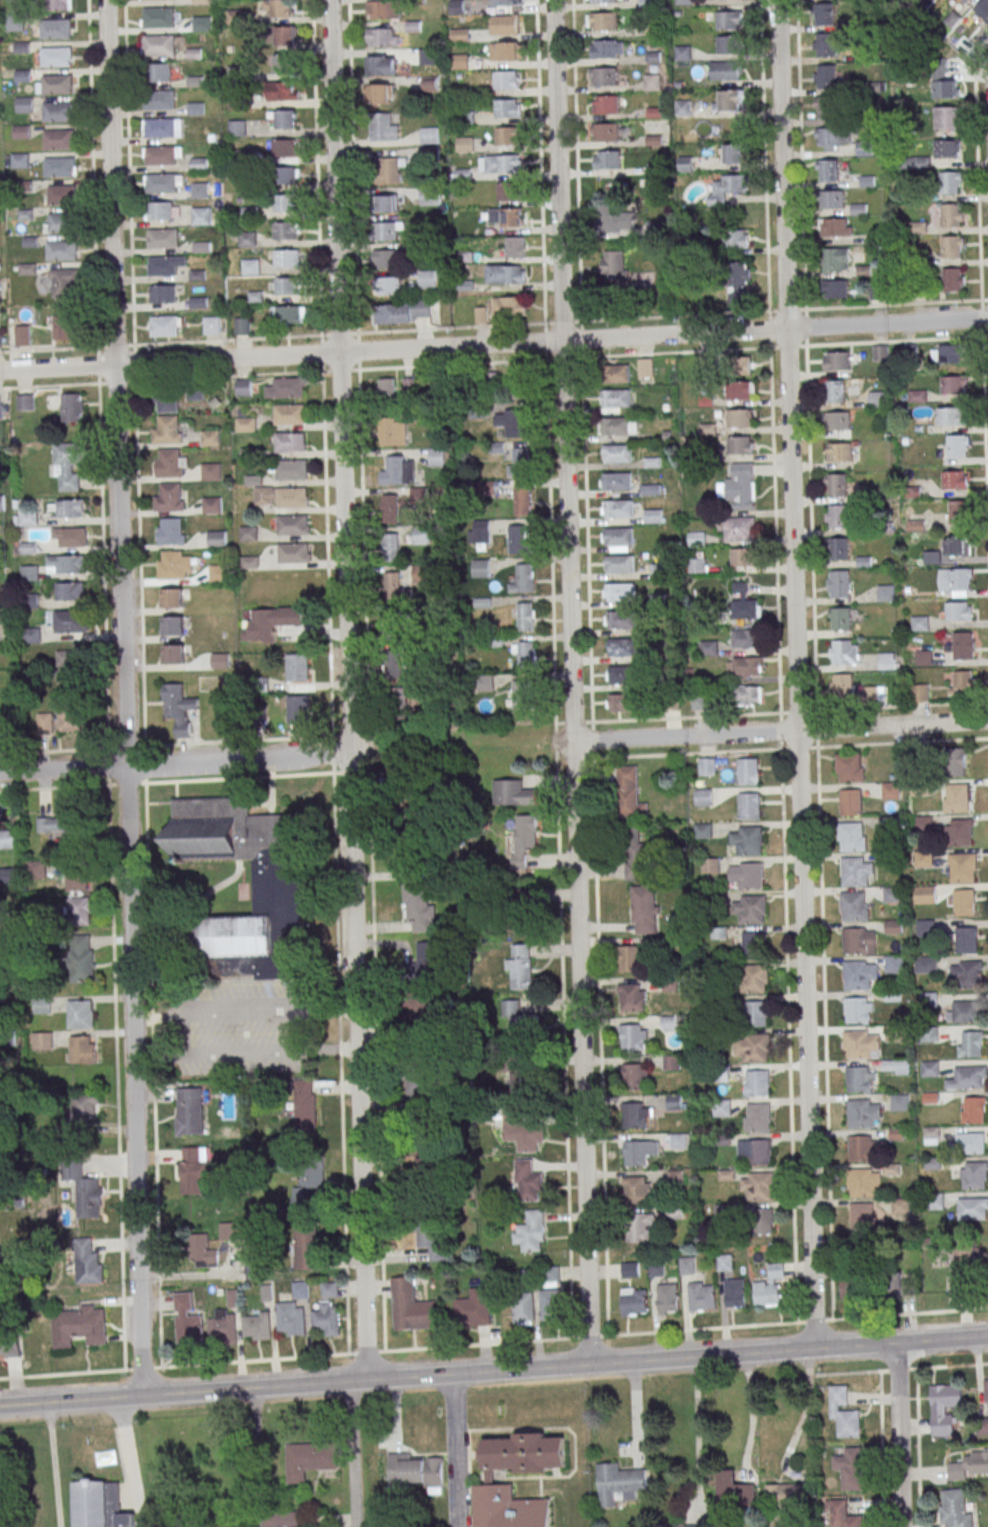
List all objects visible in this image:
building: (157, 0)
building: (606, 1)
building: (966, 1)
building: (505, 3)
building: (60, 5)
building: (283, 8)
building: (384, 9)
building: (986, 9)
building: (823, 14)
building: (159, 17)
building: (729, 20)
building: (602, 21)
building: (15, 22)
building: (201, 23)
building: (505, 25)
building: (56, 28)
building: (286, 33)
building: (459, 35)
building: (381, 36)
building: (729, 44)
building: (827, 44)
building: (160, 45)
building: (607, 49)
building: (507, 51)
building: (682, 53)
building: (428, 56)
building: (57, 57)
building: (459, 61)
building: (283, 65)
building: (381, 65)
building: (726, 71)
building: (159, 72)
building: (603, 76)
building: (827, 76)
building: (507, 80)
building: (58, 84)
building: (430, 86)
building: (945, 89)
building: (284, 91)
building: (382, 93)
building: (160, 100)
building: (729, 101)
building: (24, 104)
building: (606, 104)
building: (508, 108)
building: (824, 108)
building: (58, 111)
building: (465, 117)
building: (948, 117)
building: (286, 119)
building: (160, 127)
building: (383, 127)
building: (237, 128)
building: (608, 132)
building: (429, 135)
building: (509, 135)
building: (59, 139)
building: (832, 139)
building: (465, 144)
building: (284, 147)
building: (947, 148)
building: (736, 153)
building: (160, 155)
building: (608, 159)
building: (20, 160)
building: (501, 164)
building: (60, 166)
building: (391, 170)
building: (827, 170)
building: (287, 175)
road: (93, 176)
building: (950, 182)
building: (161, 183)
building: (729, 185)
building: (200, 190)
building: (507, 191)
building: (61, 194)
building: (428, 196)
building: (832, 199)
building: (285, 202)
building: (387, 204)
building: (162, 210)
building: (951, 215)
building: (201, 216)
building: (506, 218)
building: (617, 218)
building: (59, 222)
building: (835, 227)
building: (285, 230)
building: (388, 230)
building: (163, 237)
building: (736, 238)
building: (247, 239)
building: (915, 239)
building: (508, 244)
building: (952, 247)
building: (61, 249)
building: (287, 258)
building: (384, 258)
building: (835, 259)
building: (165, 265)
building: (251, 266)
building: (614, 266)
building: (509, 273)
building: (741, 273)
building: (427, 279)
building: (953, 279)
building: (63, 283)
building: (389, 285)
building: (287, 286)
building: (835, 289)
building: (162, 293)
building: (509, 306)
building: (403, 312)
building: (290, 314)
building: (481, 315)
road: (669, 317)
building: (212, 324)
building: (164, 325)
building: (242, 326)
building: (62, 327)
building: (20, 334)
road: (339, 334)
road: (228, 339)
road: (493, 343)
road: (115, 346)
road: (51, 349)
building: (880, 353)
building: (947, 353)
building: (836, 361)
road: (98, 365)
building: (739, 366)
building: (646, 367)
building: (617, 373)
road: (134, 376)
building: (513, 385)
building: (954, 385)
building: (243, 387)
building: (288, 387)
building: (398, 389)
building: (741, 390)
building: (834, 390)
building: (195, 391)
building: (616, 398)
building: (877, 399)
building: (25, 402)
building: (166, 403)
building: (72, 407)
building: (289, 413)
building: (949, 416)
building: (740, 418)
building: (837, 421)
building: (512, 422)
building: (245, 424)
building: (618, 426)
building: (167, 429)
building: (393, 431)
building: (291, 442)
building: (740, 445)
building: (956, 446)
building: (838, 452)
building: (617, 453)
building: (436, 456)
building: (518, 461)
building: (170, 463)
building: (68, 464)
building: (291, 469)
building: (397, 469)
building: (211, 471)
building: (955, 480)
building: (617, 481)
building: (839, 485)
building: (740, 486)
building: (418, 495)
building: (291, 497)
building: (169, 498)
building: (522, 500)
building: (211, 505)
building: (68, 508)
building: (389, 508)
building: (619, 509)
building: (958, 512)
building: (837, 516)
building: (27, 518)
building: (293, 525)
building: (740, 528)
building: (171, 532)
building: (479, 532)
building: (248, 534)
road: (363, 536)
building: (69, 537)
building: (216, 538)
road: (326, 539)
building: (520, 539)
building: (618, 539)
building: (957, 546)
building: (391, 547)
building: (838, 548)
building: (293, 552)
building: (744, 557)
building: (65, 564)
building: (615, 564)
building: (173, 565)
road: (104, 566)
building: (480, 568)
building: (29, 572)
building: (217, 572)
building: (522, 579)
building: (955, 581)
building: (838, 584)
building: (392, 586)
building: (69, 591)
building: (619, 591)
building: (885, 592)
building: (172, 598)
building: (744, 603)
building: (958, 611)
building: (525, 617)
building: (839, 619)
building: (620, 620)
building: (70, 621)
building: (270, 622)
building: (919, 623)
building: (173, 626)
building: (393, 631)
building: (31, 635)
building: (746, 638)
building: (961, 646)
building: (621, 647)
building: (709, 647)
building: (843, 651)
building: (174, 654)
building: (524, 655)
building: (219, 660)
building: (70, 661)
building: (888, 661)
building: (393, 663)
building: (744, 666)
building: (296, 667)
road: (795, 673)
building: (621, 675)
road: (570, 681)
building: (961, 681)
building: (485, 683)
building: (842, 685)
road: (348, 689)
building: (919, 693)
building: (521, 694)
building: (747, 695)
road: (125, 697)
building: (698, 701)
building: (395, 702)
building: (621, 703)
building: (178, 707)
building: (297, 709)
building: (68, 719)
road: (892, 725)
road: (350, 734)
road: (365, 734)
road: (673, 734)
road: (240, 740)
road: (450, 745)
road: (128, 746)
road: (57, 750)
road: (369, 751)
road: (333, 754)
building: (956, 762)
road: (175, 764)
road: (145, 765)
building: (706, 766)
road: (109, 767)
building: (850, 767)
road: (351, 771)
road: (366, 771)
building: (747, 771)
road: (239, 777)
road: (127, 784)
road: (56, 787)
building: (890, 790)
building: (628, 791)
building: (513, 792)
building: (703, 797)
building: (956, 798)
building: (850, 802)
building: (0, 805)
building: (749, 806)
building: (60, 826)
building: (703, 830)
building: (959, 832)
building: (852, 837)
building: (523, 838)
building: (6, 839)
building: (747, 839)
building: (635, 854)
building: (710, 865)
building: (962, 868)
building: (37, 869)
building: (856, 871)
building: (746, 874)
building: (7, 877)
building: (77, 881)
road: (335, 885)
building: (277, 888)
building: (924, 894)
road: (148, 895)
building: (964, 902)
building: (853, 906)
building: (418, 908)
building: (522, 909)
building: (80, 910)
building: (644, 910)
building: (749, 910)
building: (967, 939)
building: (859, 940)
building: (751, 944)
building: (81, 958)
building: (426, 958)
building: (630, 958)
building: (894, 964)
building: (926, 964)
building: (522, 966)
building: (967, 973)
building: (860, 975)
building: (754, 979)
building: (671, 983)
building: (632, 997)
building: (42, 1005)
road: (339, 1009)
building: (859, 1010)
road: (242, 1011)
building: (424, 1011)
building: (963, 1011)
building: (755, 1013)
building: (80, 1014)
road: (152, 1017)
building: (668, 1022)
building: (521, 1024)
road: (339, 1029)
parking lot: (250, 1032)
building: (893, 1033)
road: (152, 1037)
building: (634, 1037)
building: (42, 1041)
building: (970, 1043)
building: (861, 1044)
building: (755, 1048)
building: (81, 1049)
road: (340, 1049)
road: (244, 1055)
road: (376, 1056)
road: (153, 1057)
building: (672, 1062)
building: (895, 1067)
building: (930, 1068)
road: (116, 1074)
building: (635, 1076)
building: (968, 1078)
building: (860, 1079)
building: (524, 1081)
building: (757, 1083)
building: (419, 1087)
building: (674, 1101)
building: (899, 1102)
building: (305, 1105)
building: (84, 1106)
building: (721, 1108)
building: (973, 1109)
building: (189, 1111)
building: (863, 1113)
building: (641, 1116)
building: (757, 1117)
building: (521, 1132)
building: (931, 1135)
building: (679, 1140)
building: (970, 1143)
building: (861, 1148)
building: (755, 1151)
building: (640, 1152)
building: (193, 1169)
building: (428, 1171)
building: (973, 1175)
building: (528, 1181)
building: (863, 1182)
building: (757, 1186)
building: (307, 1188)
building: (637, 1190)
building: (88, 1197)
building: (935, 1201)
road: (344, 1204)
building: (900, 1206)
building: (973, 1208)
road: (157, 1215)
building: (863, 1216)
building: (761, 1221)
building: (640, 1228)
building: (531, 1231)
building: (427, 1241)
building: (195, 1248)
building: (306, 1251)
building: (86, 1261)
building: (725, 1262)
building: (687, 1265)
building: (631, 1269)
building: (898, 1283)
building: (771, 1286)
building: (852, 1287)
building: (300, 1289)
building: (329, 1289)
building: (735, 1293)
building: (702, 1296)
building: (668, 1298)
building: (635, 1302)
building: (551, 1305)
building: (412, 1307)
building: (474, 1308)
building: (523, 1308)
building: (290, 1318)
building: (326, 1319)
building: (187, 1320)
building: (78, 1326)
building: (257, 1326)
building: (223, 1327)
road: (683, 1330)
building: (10, 1339)
road: (367, 1351)
road: (255, 1360)
road: (142, 1368)
road: (127, 1369)
road: (493, 1370)
road: (62, 1374)
building: (985, 1390)
building: (945, 1403)
road: (751, 1407)
building: (844, 1412)
building: (983, 1426)
road: (696, 1429)
road: (898, 1435)
road: (789, 1449)
road: (458, 1450)
road: (352, 1453)
road: (254, 1457)
building: (309, 1460)
road: (131, 1462)
road: (53, 1465)
building: (970, 1466)
building: (851, 1468)
building: (418, 1471)
building: (489, 1477)
building: (618, 1483)
building: (733, 1490)
building: (787, 1494)
building: (99, 1504)
building: (955, 1508)
building: (845, 1514)
building: (284, 1519)

